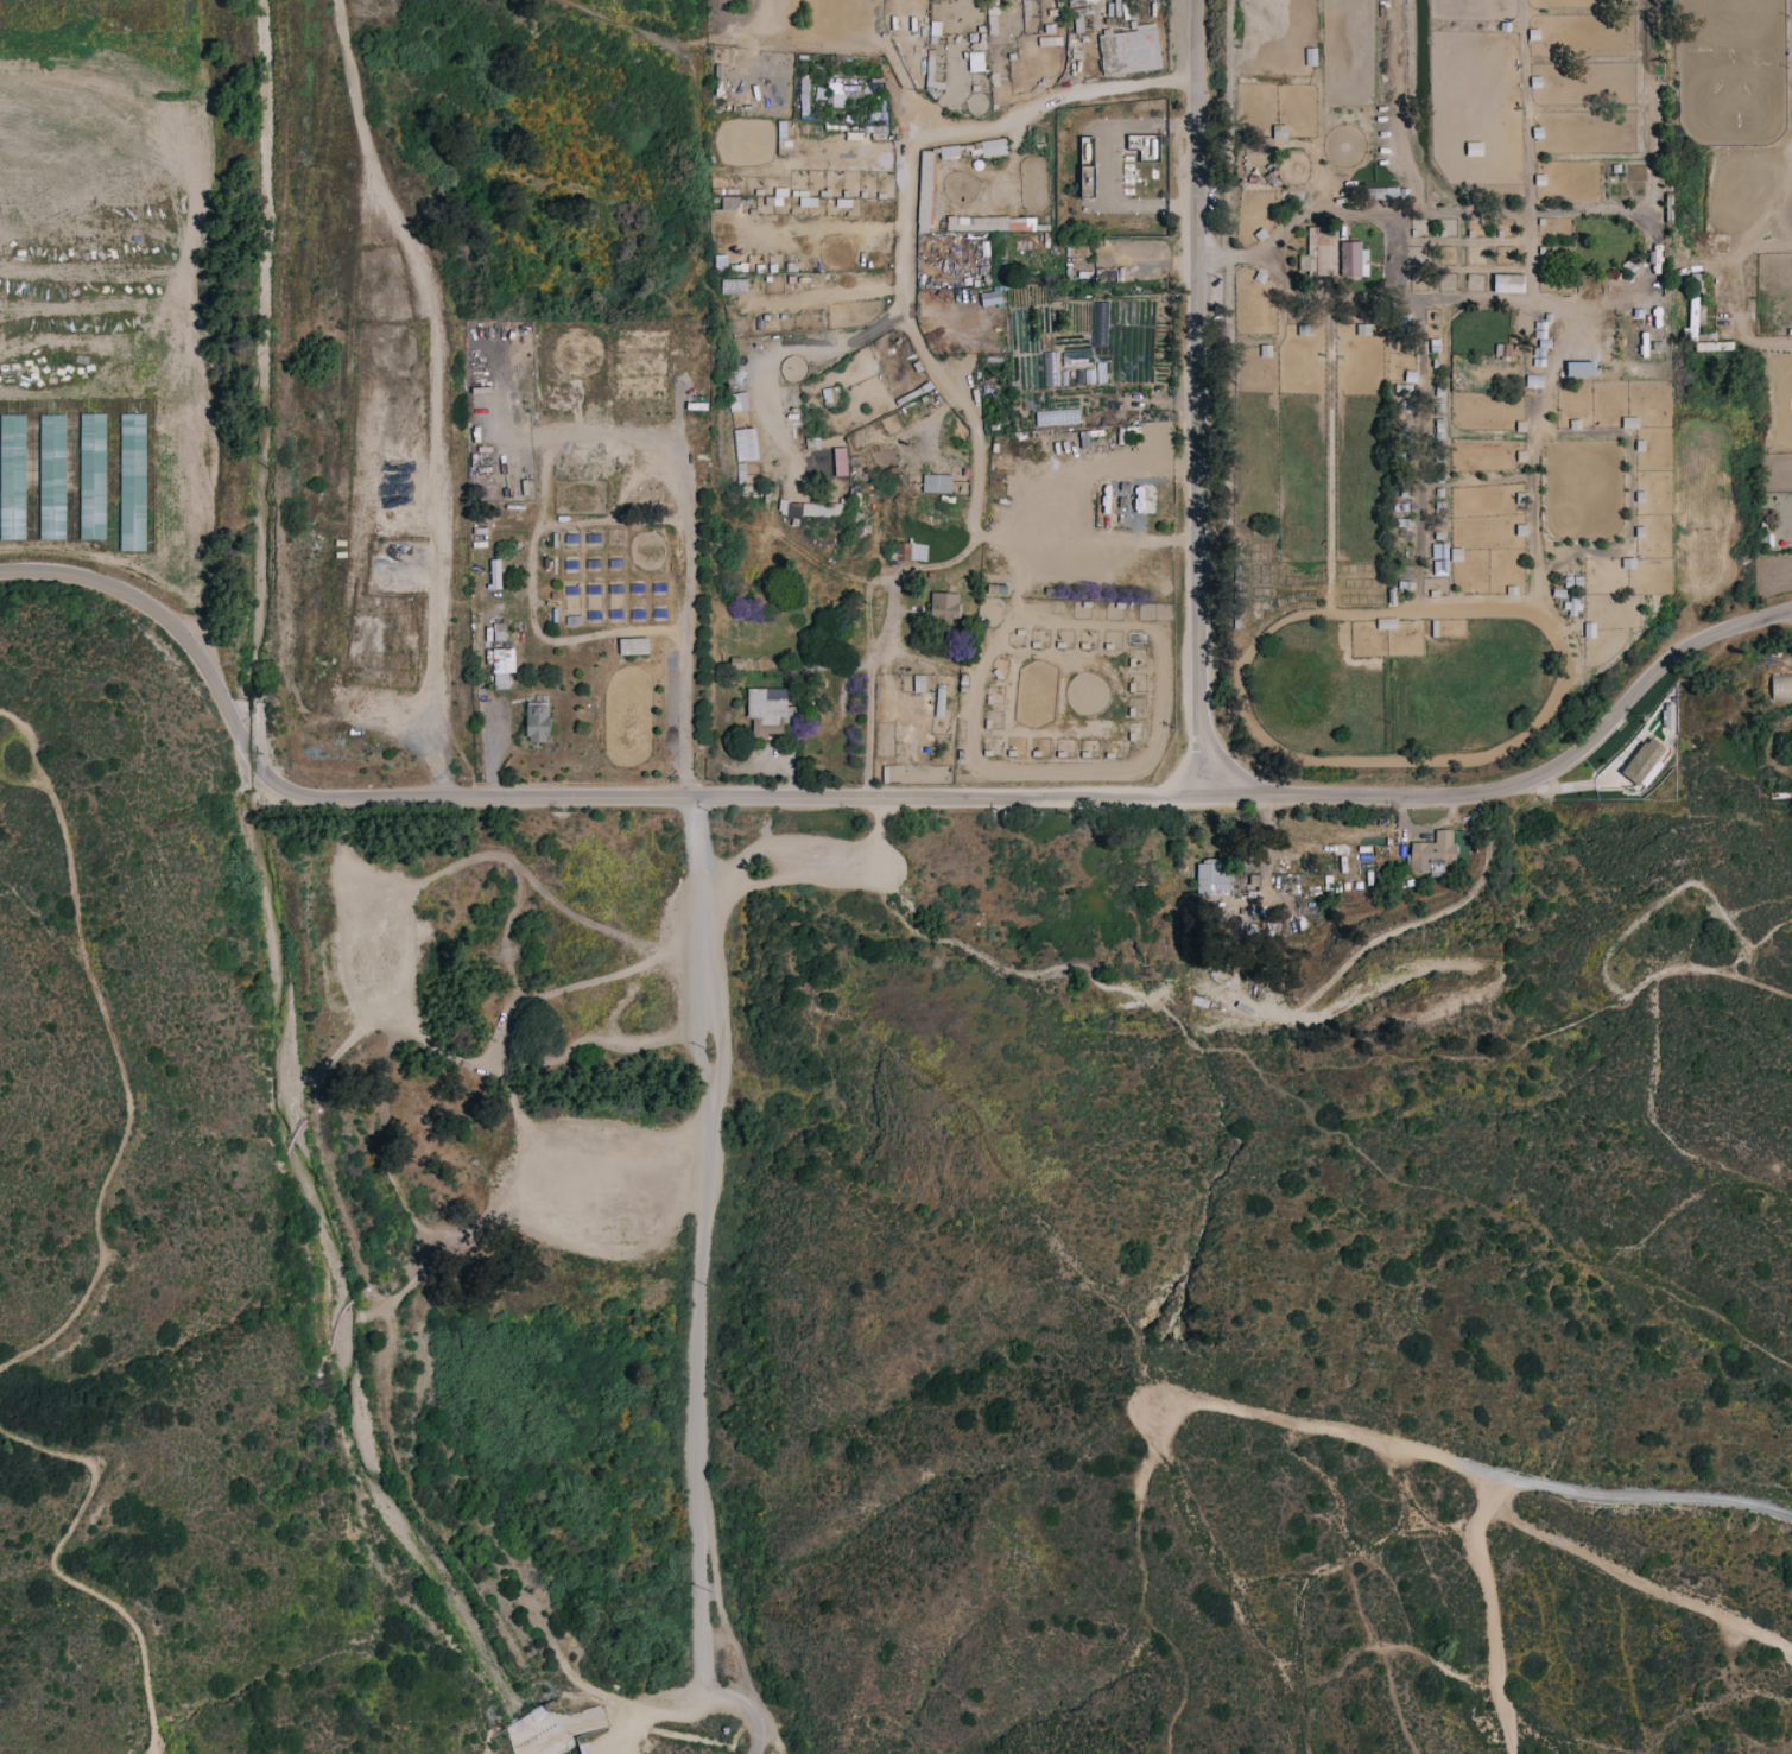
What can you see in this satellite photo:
building: (1071, 0)
building: (1129, 50)
building: (1311, 56)
building: (976, 61)
road: (1173, 81)
building: (836, 93)
building: (1279, 131)
building: (993, 146)
building: (1145, 146)
building: (1474, 148)
building: (949, 152)
building: (925, 191)
building: (808, 201)
building: (730, 202)
building: (990, 223)
road: (1236, 253)
building: (1318, 254)
road: (1401, 255)
building: (1351, 258)
building: (721, 261)
building: (1508, 283)
building: (734, 286)
building: (990, 297)
road: (1772, 341)
building: (1709, 346)
building: (1503, 349)
building: (1076, 357)
building: (1579, 368)
road: (938, 375)
road: (1199, 398)
building: (739, 400)
building: (1057, 416)
building: (1629, 422)
building: (746, 444)
building: (741, 471)
building: (13, 476)
building: (52, 476)
building: (93, 476)
building: (133, 481)
building: (937, 483)
building: (1145, 499)
building: (810, 508)
building: (911, 551)
building: (1440, 558)
road: (11, 572)
building: (495, 574)
road: (533, 582)
building: (944, 606)
road: (684, 613)
building: (1386, 623)
building: (499, 631)
building: (633, 645)
building: (502, 666)
building: (919, 683)
building: (1781, 688)
building: (768, 713)
building: (537, 721)
building: (1642, 760)
road: (1526, 785)
road: (559, 799)
building: (1432, 851)
building: (1212, 876)
road: (1724, 971)
road: (1209, 1047)
road: (118, 1052)
road: (1524, 1217)
road: (701, 1288)
road: (1622, 1493)
road: (59, 1569)
road: (1642, 1577)
road: (1489, 1609)
road: (656, 1704)

